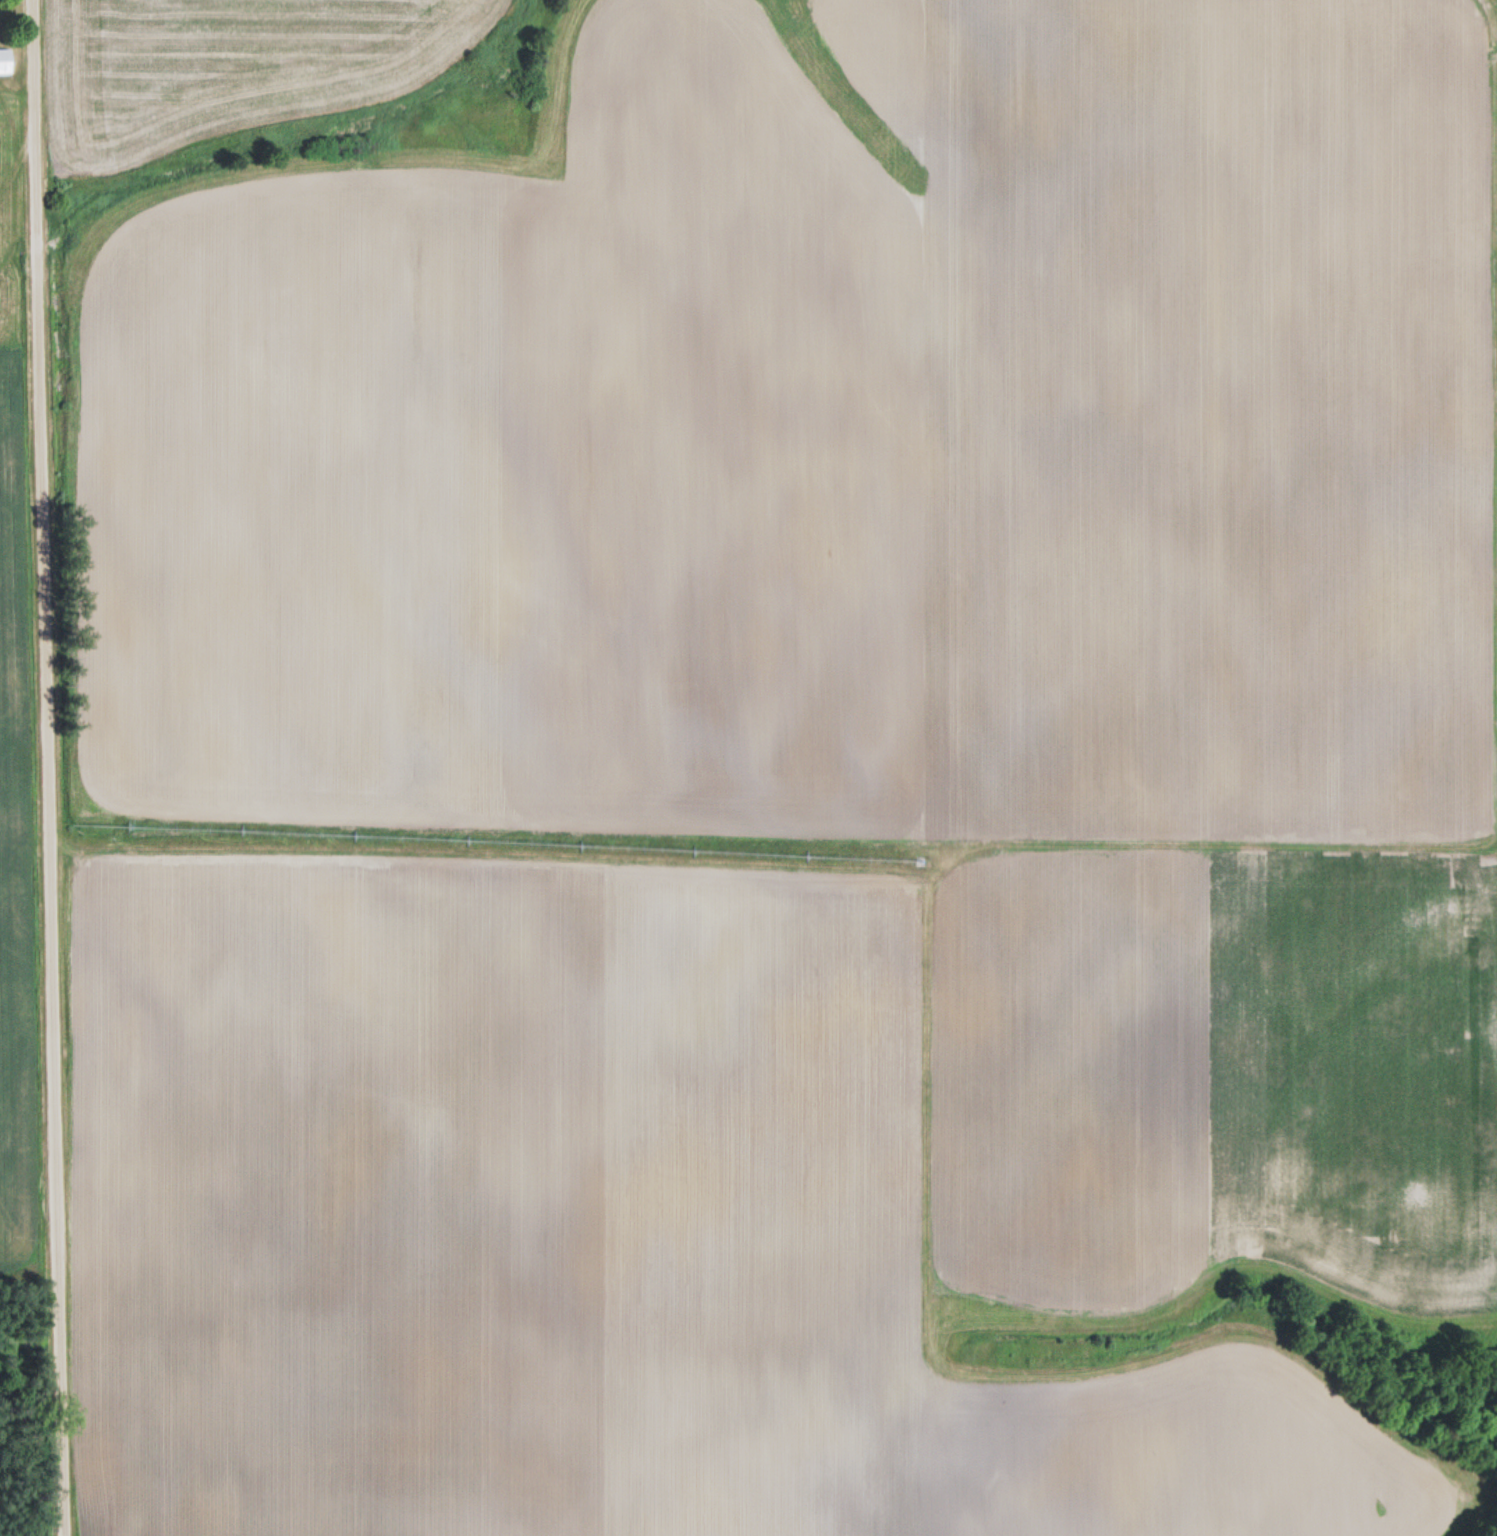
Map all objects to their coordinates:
building: (4, 61)
road: (48, 767)

